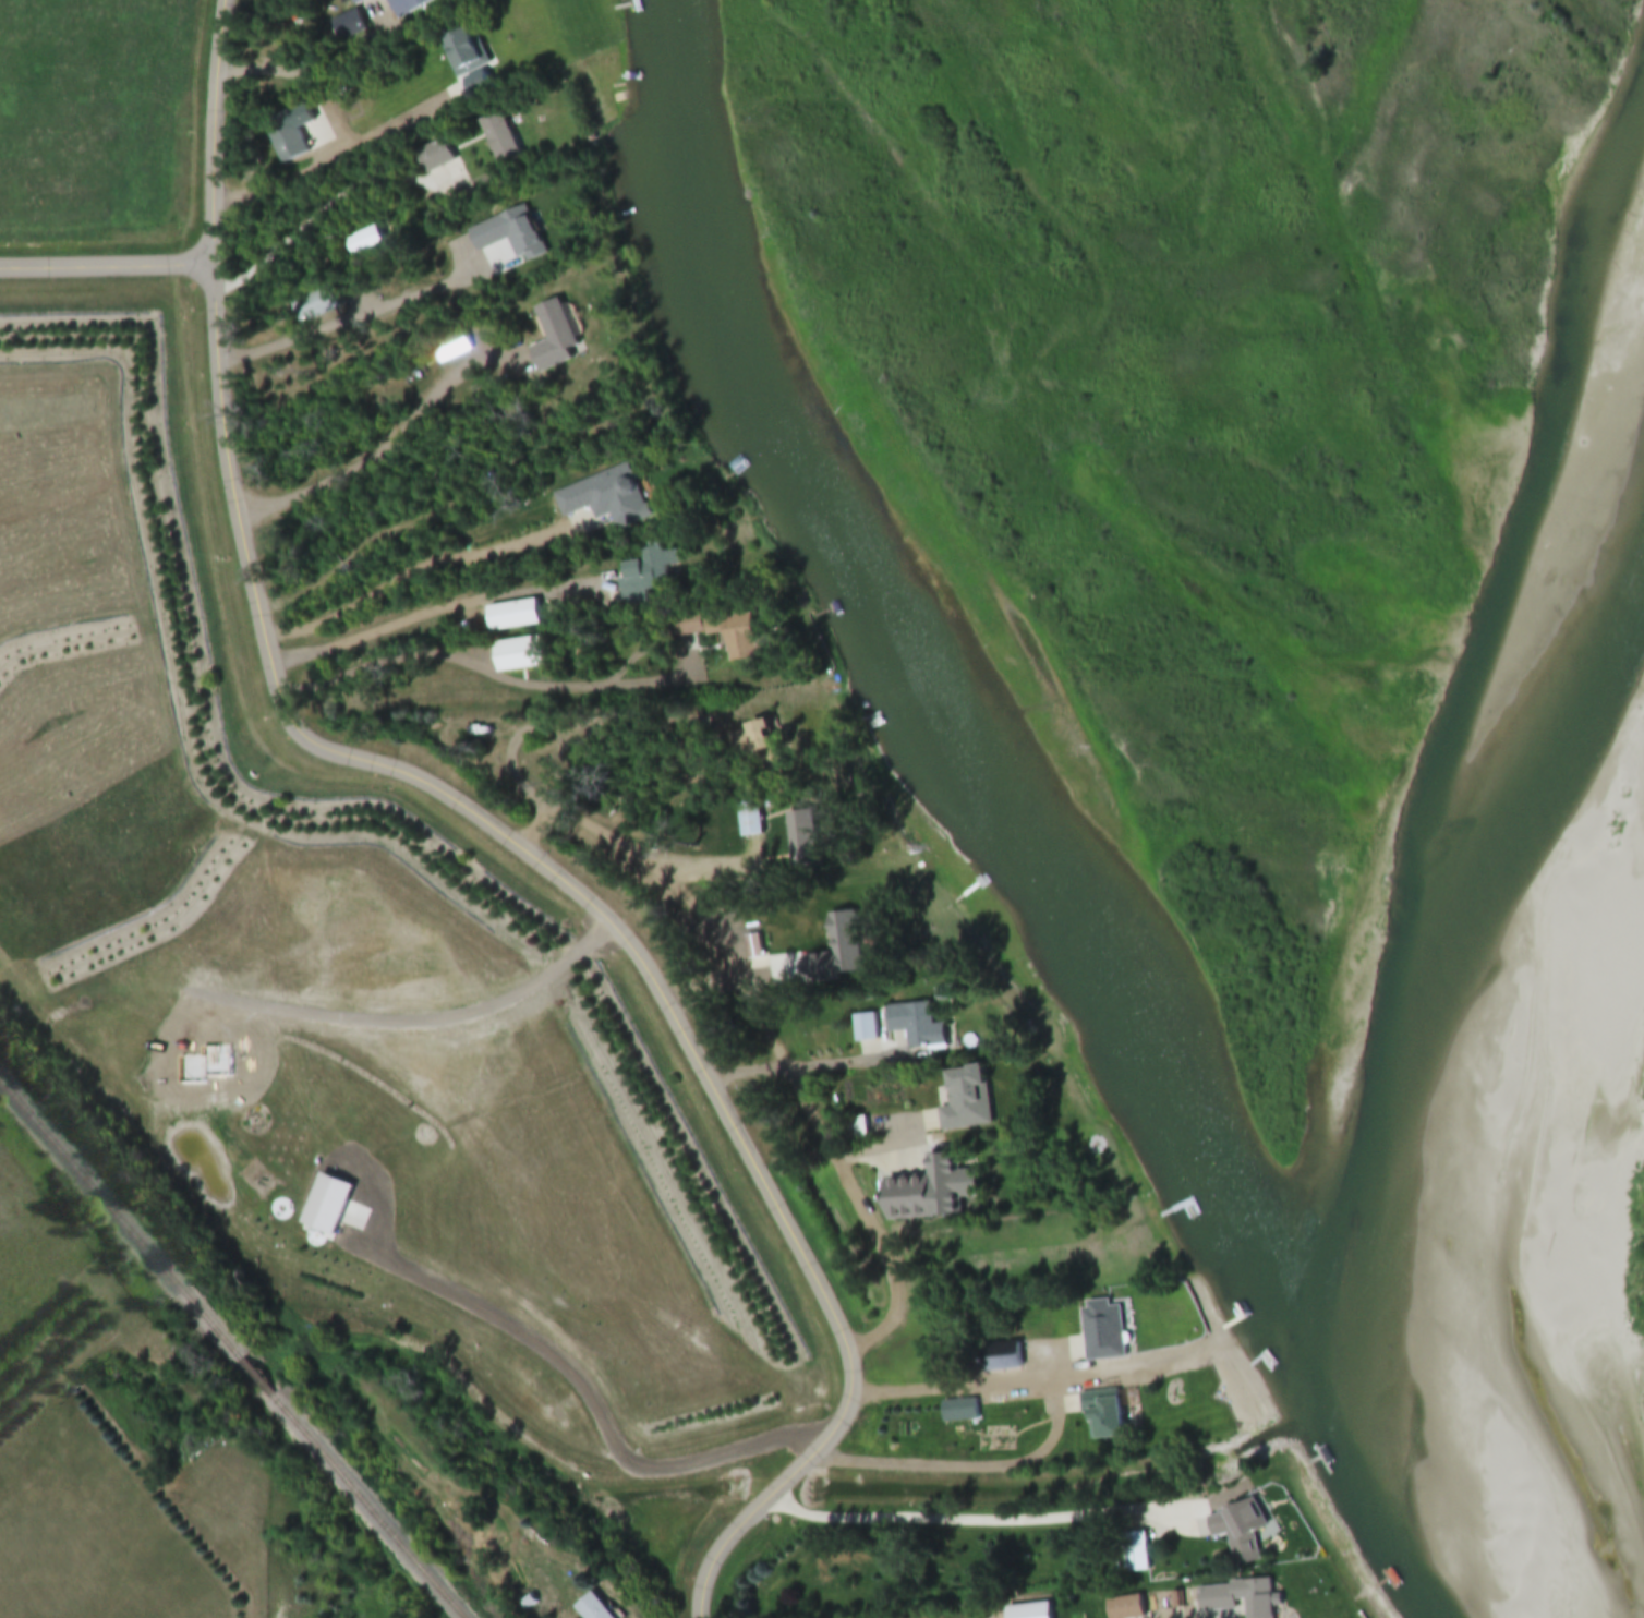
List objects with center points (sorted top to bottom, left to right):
building: (343, 4)
building: (403, 7)
building: (460, 52)
road: (316, 71)
building: (495, 137)
building: (281, 138)
building: (431, 158)
road: (337, 159)
road: (325, 206)
building: (504, 240)
building: (362, 242)
road: (108, 266)
building: (314, 304)
building: (446, 349)
building: (590, 389)
building: (603, 499)
road: (408, 571)
building: (643, 573)
road: (436, 611)
building: (510, 617)
building: (507, 657)
road: (485, 668)
building: (746, 740)
building: (746, 821)
road: (537, 824)
road: (497, 826)
building: (834, 938)
building: (807, 969)
road: (763, 1021)
building: (911, 1027)
building: (862, 1029)
building: (962, 1100)
building: (856, 1127)
building: (912, 1198)
building: (328, 1204)
building: (1103, 1330)
railway: (237, 1345)
building: (1105, 1416)
road: (1056, 1438)
road: (964, 1518)
building: (1241, 1531)
building: (1136, 1553)
building: (1238, 1598)
building: (1126, 1607)
building: (594, 1608)

